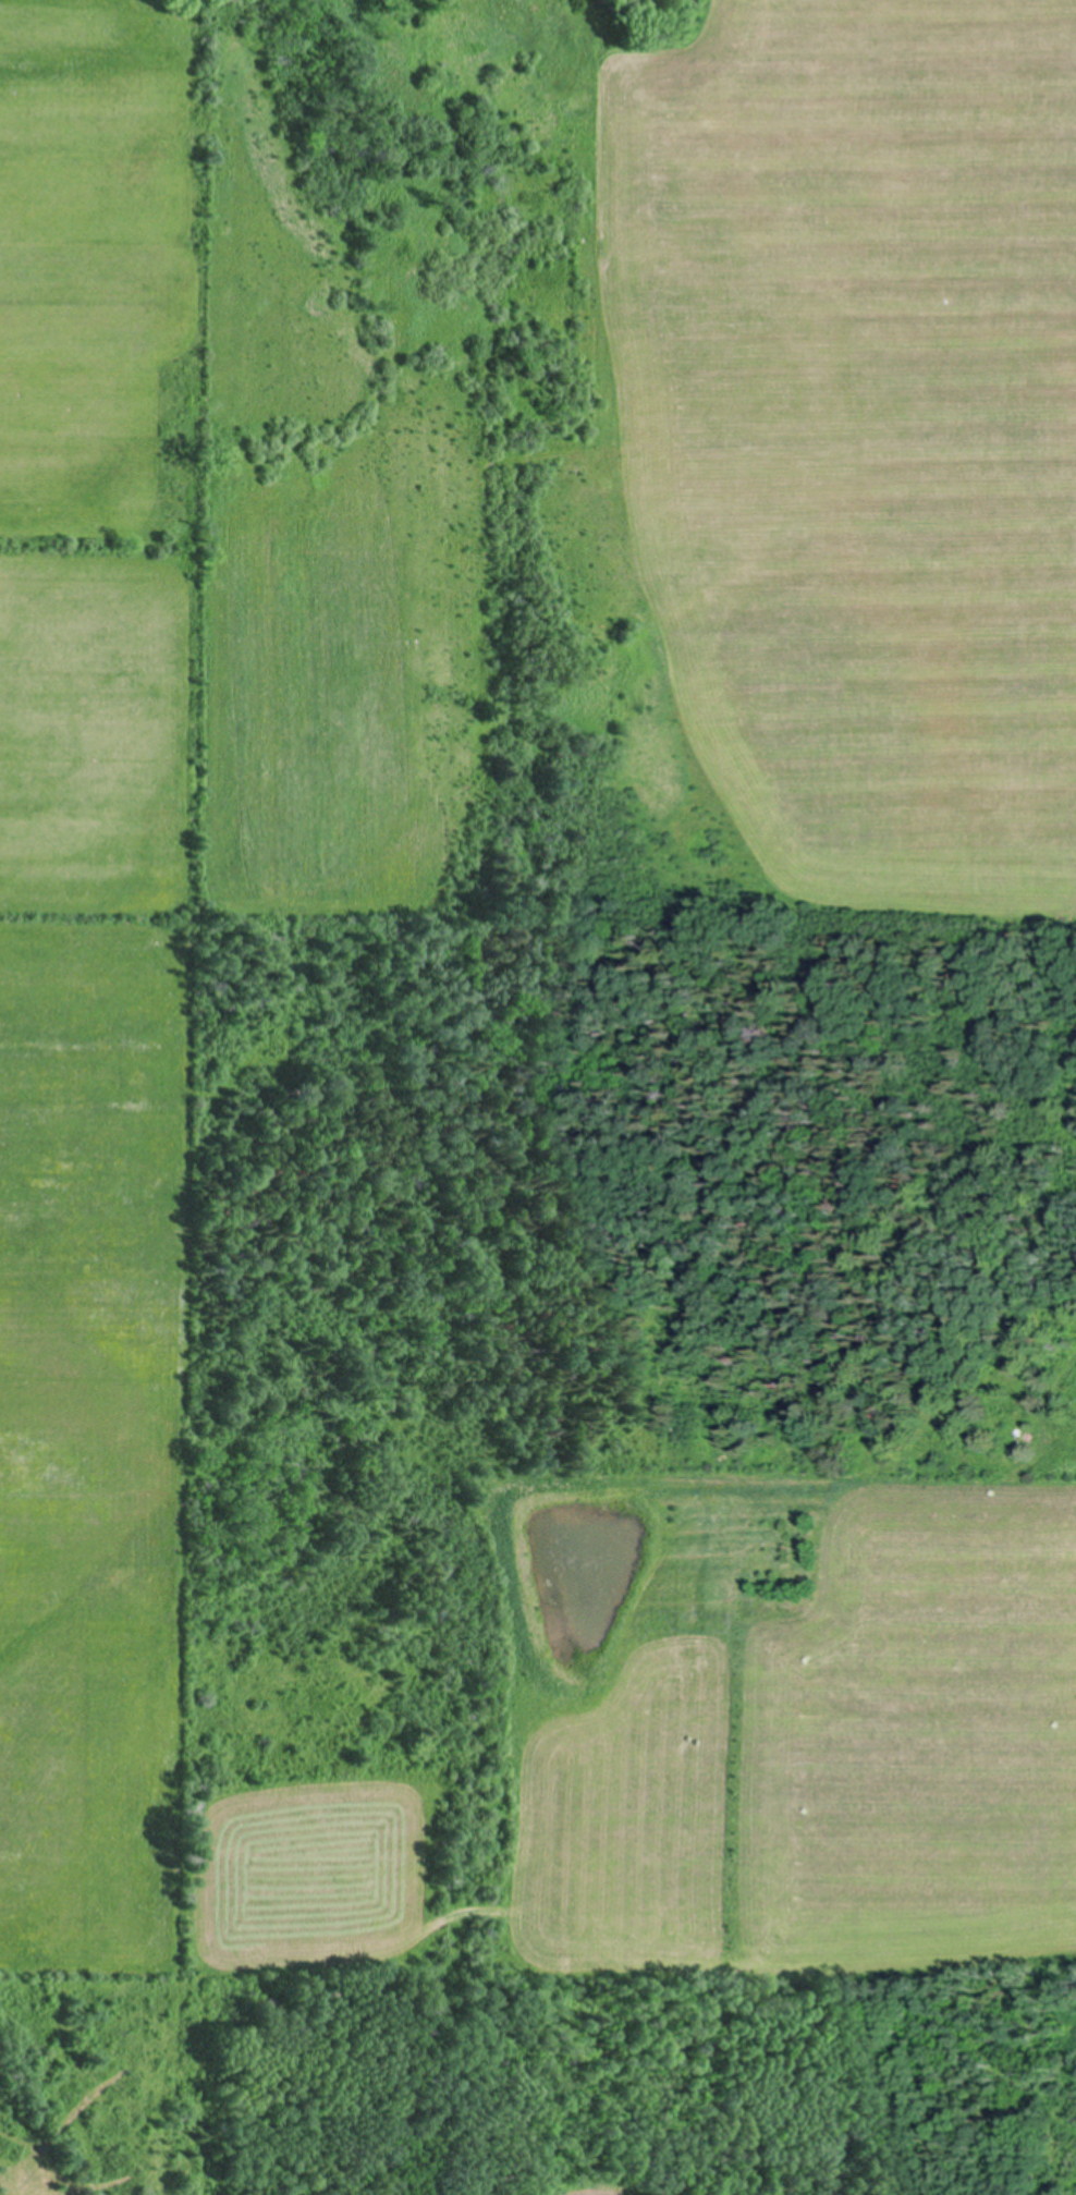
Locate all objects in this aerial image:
building: (872, 1440)

